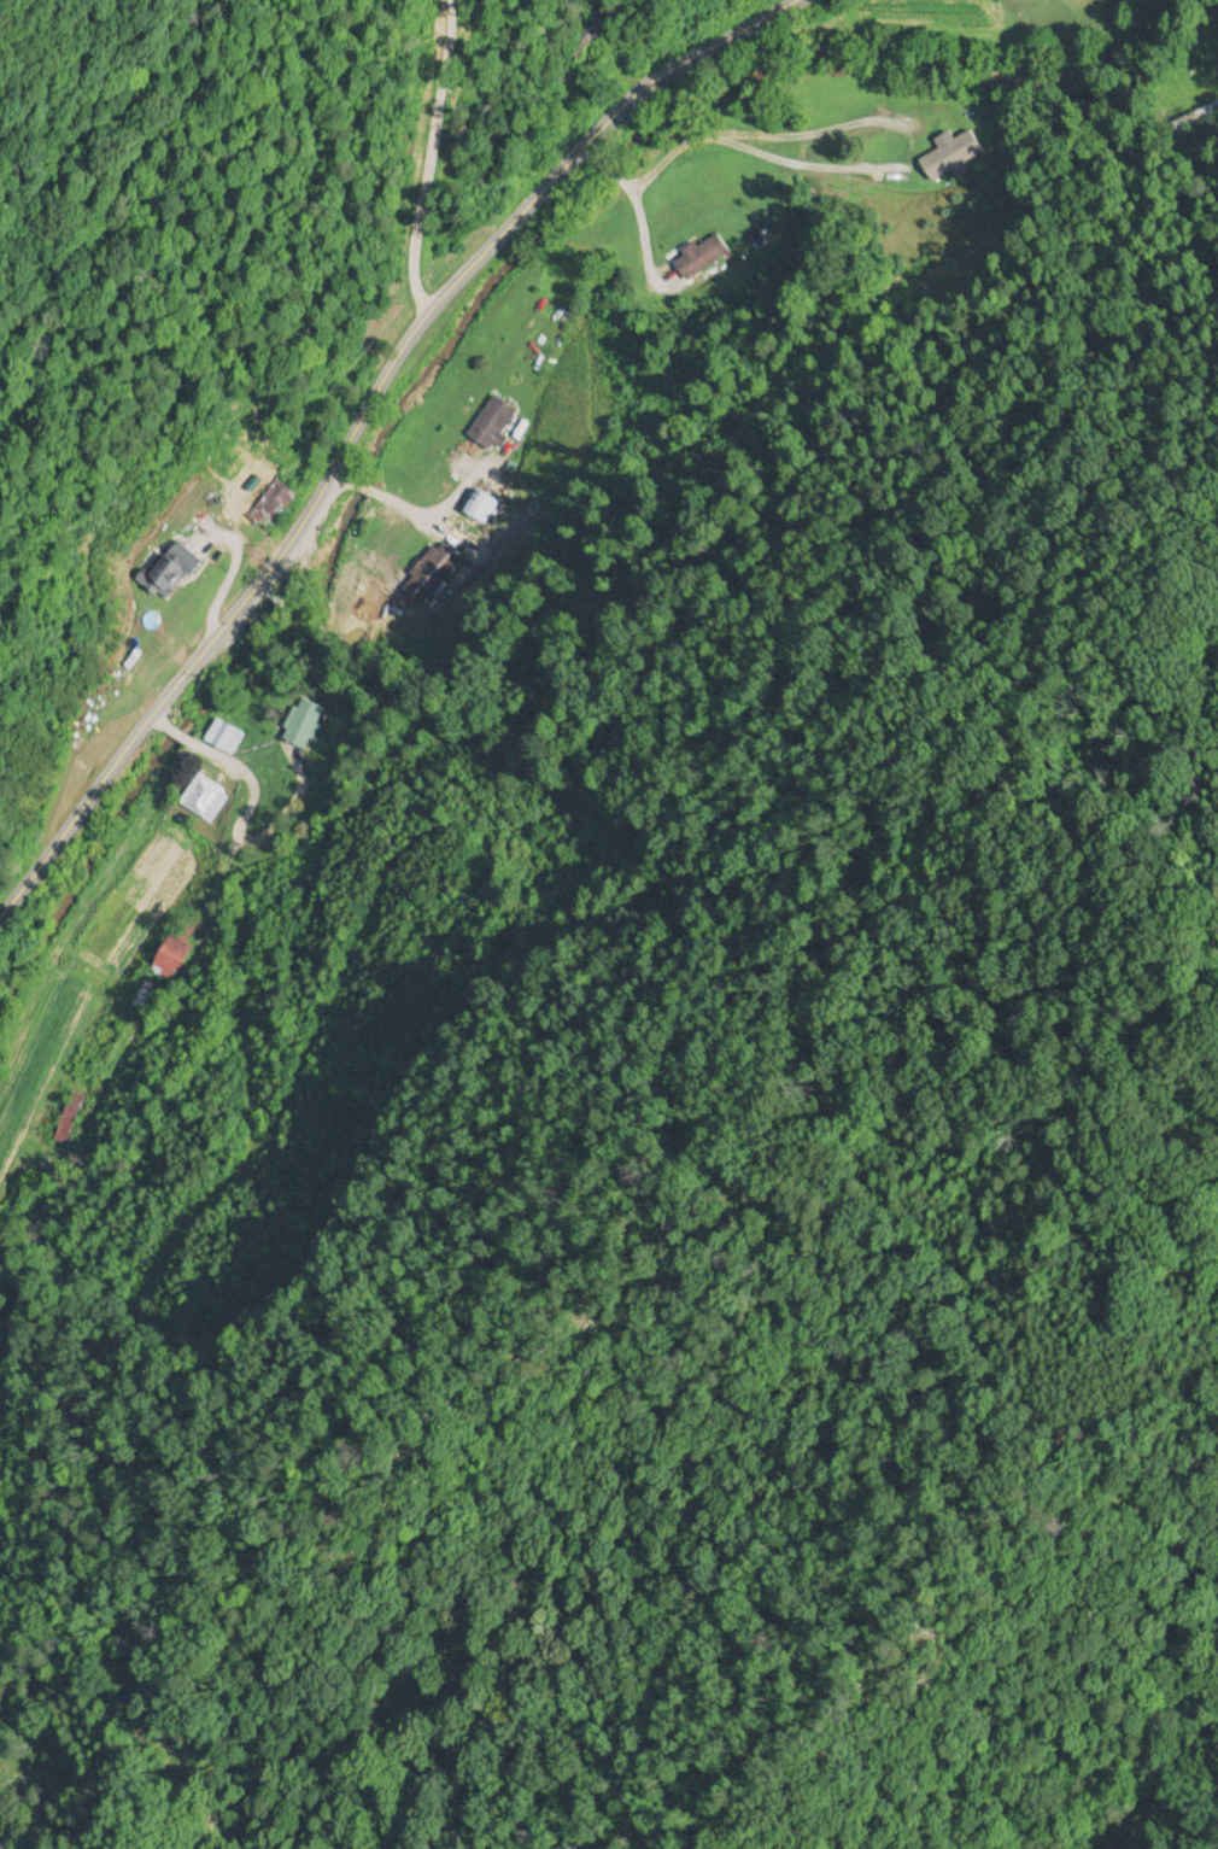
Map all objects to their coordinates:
road: (359, 466)

